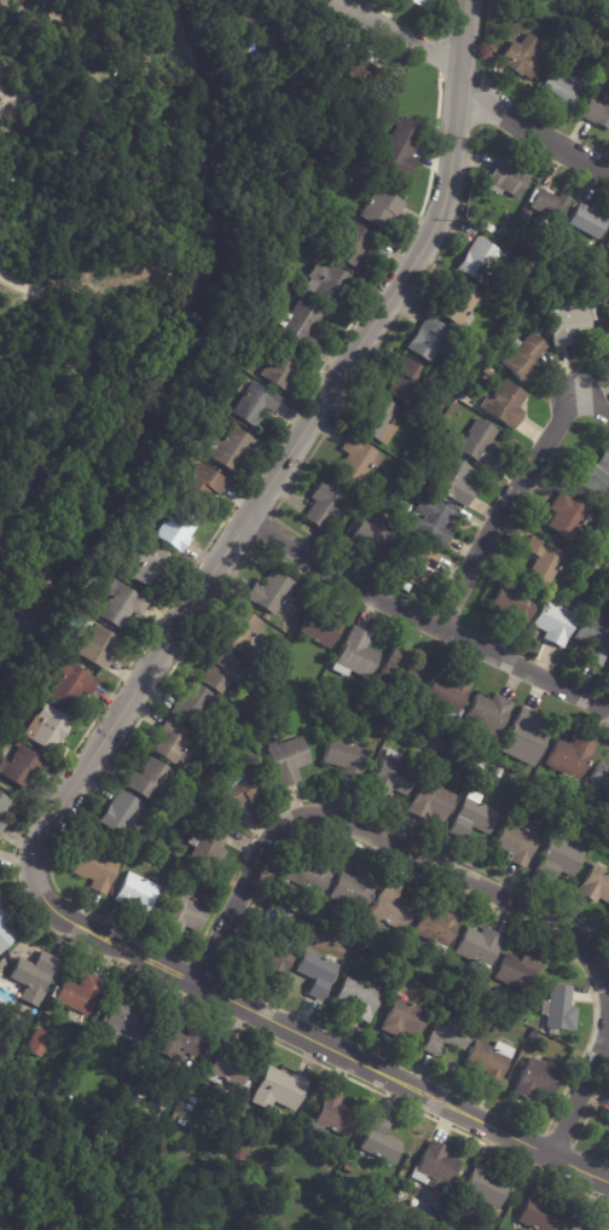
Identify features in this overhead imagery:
building: (607, 0)
building: (591, 1)
building: (422, 2)
building: (253, 12)
building: (564, 27)
road: (399, 35)
building: (284, 46)
building: (233, 47)
building: (523, 57)
building: (325, 66)
building: (362, 82)
building: (561, 89)
building: (597, 111)
road: (530, 127)
building: (338, 146)
building: (402, 147)
building: (506, 180)
building: (551, 205)
building: (381, 209)
building: (588, 221)
building: (355, 243)
building: (608, 245)
building: (478, 261)
building: (556, 263)
building: (528, 266)
building: (329, 284)
park: (121, 285)
building: (458, 307)
building: (572, 324)
building: (300, 326)
building: (431, 341)
building: (607, 341)
building: (524, 358)
building: (280, 369)
building: (408, 382)
building: (255, 405)
building: (506, 406)
road: (591, 406)
building: (379, 420)
building: (480, 445)
building: (230, 449)
road: (291, 452)
building: (358, 462)
building: (592, 475)
building: (453, 482)
building: (201, 487)
building: (414, 489)
building: (326, 506)
building: (407, 506)
road: (504, 509)
building: (401, 515)
building: (568, 520)
building: (433, 522)
building: (405, 523)
building: (176, 530)
building: (373, 534)
building: (544, 562)
building: (417, 565)
building: (150, 568)
building: (404, 587)
building: (271, 593)
building: (122, 605)
building: (516, 605)
road: (425, 617)
building: (553, 625)
building: (284, 626)
building: (320, 628)
building: (240, 634)
building: (593, 639)
building: (99, 650)
building: (356, 656)
building: (608, 662)
building: (225, 673)
building: (398, 675)
building: (71, 685)
building: (360, 697)
building: (448, 697)
building: (191, 706)
building: (242, 707)
building: (488, 715)
building: (404, 718)
building: (47, 730)
building: (526, 737)
building: (172, 744)
building: (436, 744)
building: (347, 756)
building: (572, 759)
building: (289, 760)
building: (483, 765)
building: (21, 768)
building: (499, 773)
building: (393, 778)
building: (601, 779)
building: (147, 782)
building: (213, 788)
building: (240, 791)
building: (541, 793)
building: (608, 799)
building: (431, 801)
building: (567, 801)
building: (4, 806)
building: (195, 807)
building: (120, 814)
building: (474, 818)
building: (506, 818)
building: (565, 819)
building: (2, 828)
building: (590, 832)
road: (382, 839)
building: (517, 845)
building: (208, 847)
building: (559, 858)
building: (97, 871)
building: (311, 877)
building: (596, 887)
building: (355, 890)
building: (137, 894)
building: (389, 911)
building: (185, 913)
building: (320, 919)
building: (302, 924)
building: (437, 929)
building: (4, 933)
building: (399, 939)
building: (480, 950)
building: (272, 956)
building: (402, 961)
building: (520, 971)
building: (315, 974)
building: (34, 976)
building: (80, 993)
building: (359, 1002)
building: (559, 1011)
building: (123, 1016)
building: (404, 1021)
building: (524, 1021)
road: (311, 1038)
building: (447, 1038)
building: (178, 1040)
building: (37, 1043)
building: (135, 1044)
building: (489, 1062)
building: (228, 1067)
building: (536, 1083)
building: (279, 1090)
road: (582, 1090)
building: (332, 1116)
building: (608, 1119)
building: (379, 1141)
building: (240, 1155)
building: (399, 1165)
park: (156, 1167)
building: (435, 1167)
building: (347, 1170)
building: (485, 1189)
building: (539, 1213)
building: (586, 1225)

